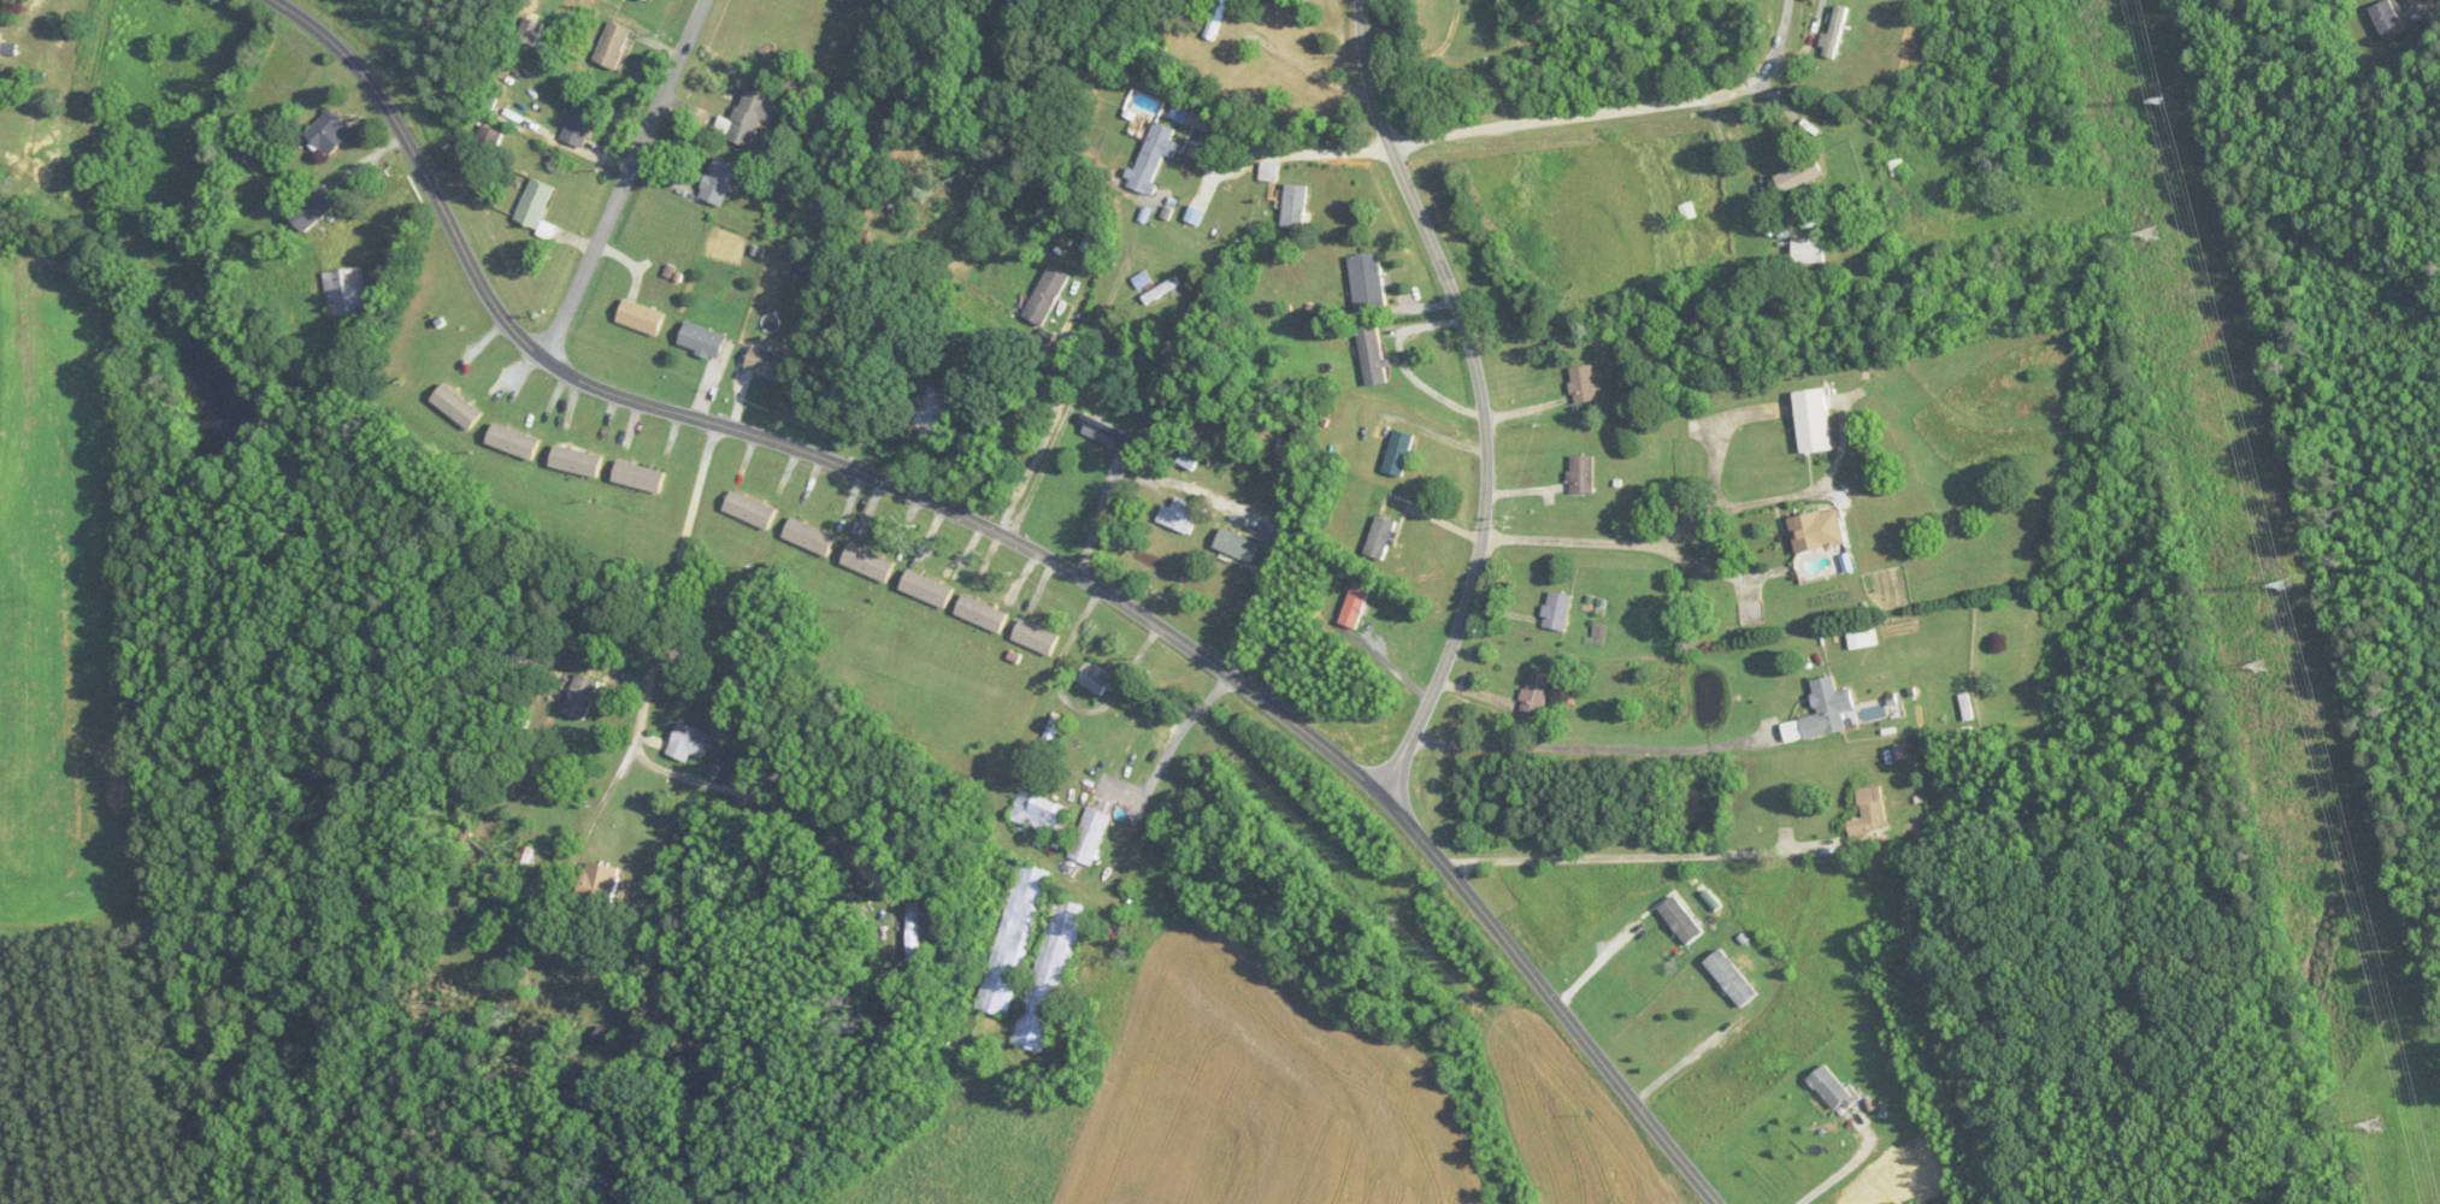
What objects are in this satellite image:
building: (644, 1)
building: (849, 1)
building: (1216, 19)
building: (2388, 19)
building: (531, 33)
building: (613, 46)
building: (6, 48)
road: (1623, 112)
building: (747, 119)
building: (580, 124)
building: (329, 134)
building: (490, 137)
road: (1295, 149)
building: (1154, 157)
building: (1268, 172)
building: (1800, 176)
road: (626, 181)
building: (719, 182)
building: (535, 203)
building: (1295, 207)
building: (316, 208)
power tower: (2153, 234)
building: (1809, 252)
building: (1368, 281)
building: (346, 293)
building: (1047, 296)
building: (641, 318)
building: (702, 340)
building: (1373, 355)
building: (768, 365)
building: (1584, 385)
road: (1075, 388)
road: (1481, 399)
building: (456, 407)
building: (931, 408)
building: (1813, 420)
building: (1104, 432)
building: (514, 441)
building: (1399, 453)
building: (577, 461)
building: (1583, 474)
building: (640, 477)
building: (750, 510)
building: (1179, 515)
building: (1861, 526)
building: (1819, 531)
building: (809, 537)
building: (1380, 538)
road: (1621, 544)
road: (1022, 545)
building: (1237, 545)
building: (868, 563)
building: (927, 589)
building: (1355, 606)
building: (1557, 610)
building: (982, 614)
road: (665, 636)
building: (1036, 638)
building: (1863, 638)
power tower: (2262, 667)
building: (1098, 680)
building: (1536, 692)
building: (580, 697)
building: (1827, 709)
road: (1179, 732)
building: (1050, 737)
building: (690, 742)
road: (1587, 746)
road: (773, 803)
building: (1870, 813)
building: (1041, 814)
building: (1089, 837)
road: (1626, 856)
building: (521, 868)
building: (600, 886)
building: (1681, 920)
building: (913, 932)
building: (1013, 940)
road: (1593, 963)
building: (1049, 975)
building: (1732, 979)
building: (608, 1037)
building: (1832, 1090)
power tower: (2375, 1125)
road: (1839, 1173)

